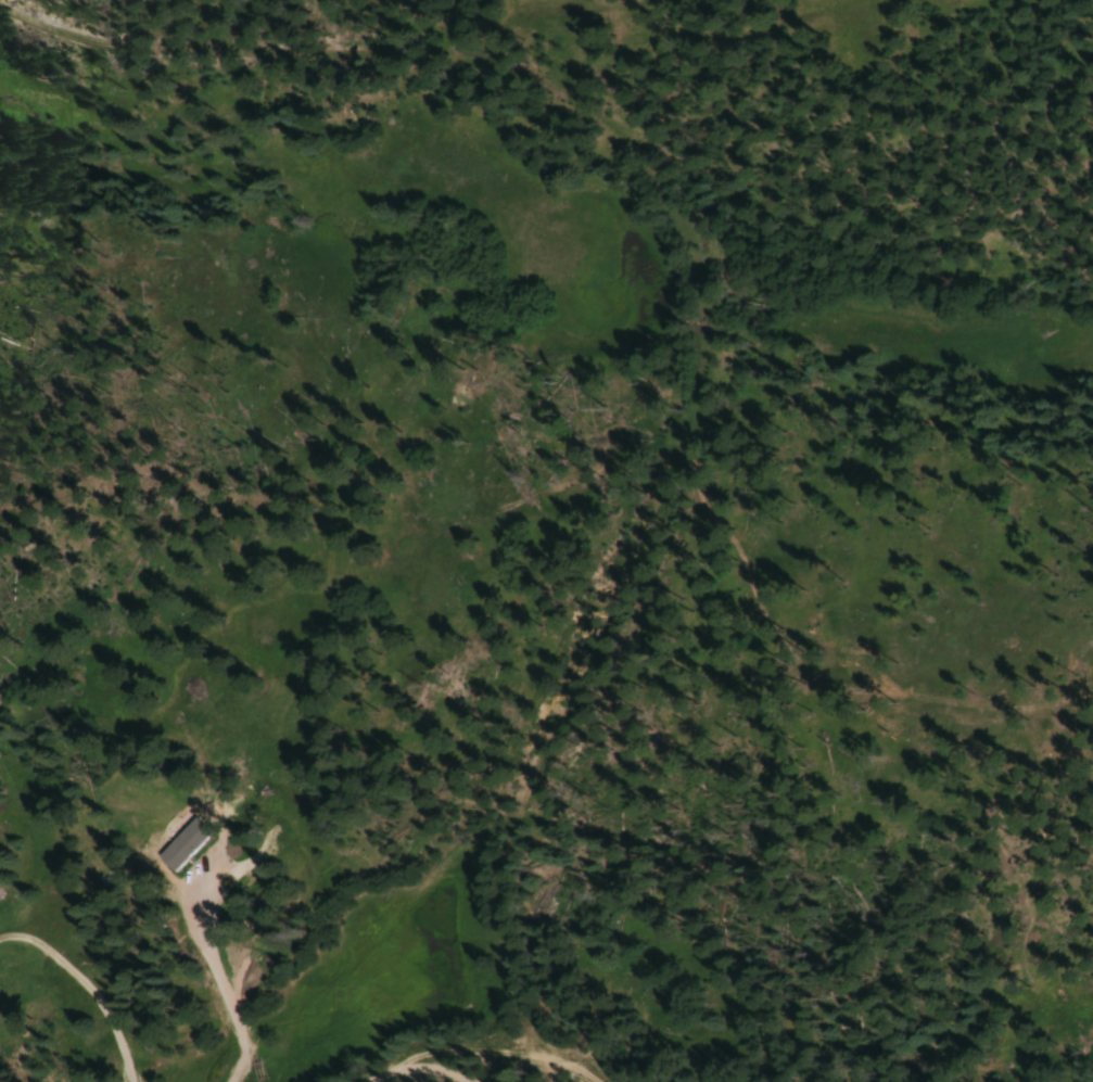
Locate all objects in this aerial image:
road: (696, 304)
road: (467, 1055)
road: (421, 1072)
road: (576, 1075)

